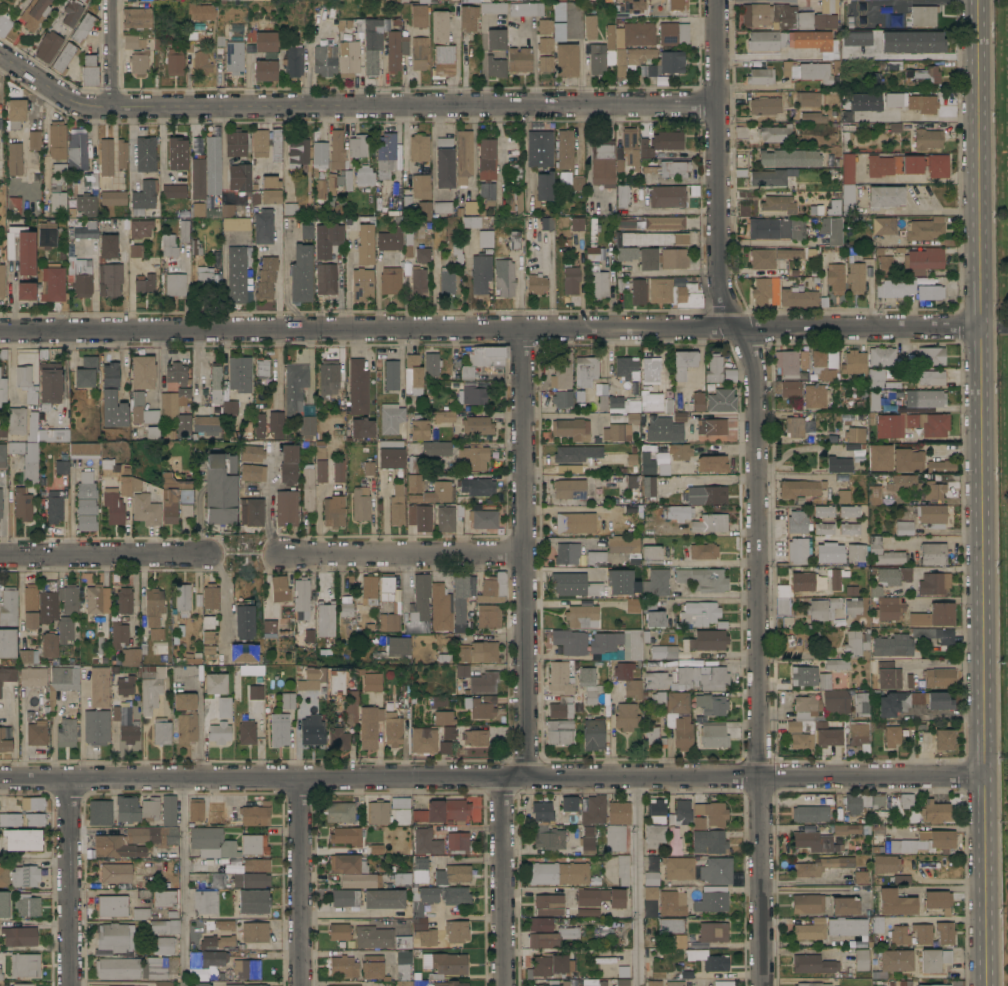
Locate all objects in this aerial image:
building: (85, 0)
building: (423, 0)
building: (469, 0)
building: (63, 1)
building: (677, 4)
building: (632, 5)
building: (494, 7)
building: (526, 8)
building: (200, 10)
building: (559, 11)
building: (72, 12)
building: (33, 13)
building: (420, 15)
building: (791, 15)
building: (923, 15)
building: (137, 17)
building: (296, 17)
building: (469, 17)
building: (891, 19)
building: (4, 25)
building: (440, 26)
building: (544, 26)
building: (590, 26)
building: (83, 27)
building: (559, 30)
building: (372, 33)
building: (635, 33)
building: (674, 33)
building: (903, 34)
building: (495, 39)
building: (810, 39)
building: (763, 40)
building: (133, 41)
building: (931, 41)
building: (544, 44)
building: (48, 45)
building: (396, 49)
building: (420, 52)
building: (602, 52)
building: (909, 52)
road: (113, 54)
road: (484, 54)
road: (768, 54)
building: (270, 55)
building: (325, 55)
road: (533, 55)
building: (632, 55)
building: (64, 56)
building: (234, 56)
building: (445, 56)
road: (579, 57)
building: (349, 58)
road: (457, 58)
building: (520, 59)
building: (293, 60)
building: (566, 60)
building: (139, 61)
building: (175, 61)
building: (202, 62)
building: (618, 62)
building: (888, 62)
building: (370, 63)
building: (544, 63)
building: (667, 63)
building: (496, 66)
building: (807, 70)
building: (88, 71)
road: (464, 71)
road: (587, 73)
building: (761, 75)
building: (922, 75)
building: (875, 79)
building: (808, 97)
building: (834, 99)
building: (891, 99)
building: (864, 102)
building: (766, 103)
building: (923, 103)
road: (351, 107)
building: (15, 112)
building: (813, 117)
road: (920, 117)
road: (25, 121)
building: (894, 127)
building: (742, 132)
building: (776, 133)
building: (928, 138)
building: (35, 139)
building: (55, 139)
building: (260, 141)
building: (236, 143)
building: (196, 144)
building: (661, 144)
building: (358, 145)
building: (276, 147)
building: (418, 147)
building: (630, 147)
building: (540, 148)
building: (337, 149)
building: (564, 149)
building: (78, 152)
building: (298, 152)
building: (122, 153)
building: (146, 153)
building: (176, 153)
building: (386, 154)
building: (464, 155)
building: (106, 156)
building: (789, 157)
building: (15, 158)
building: (487, 159)
building: (445, 162)
building: (213, 164)
building: (603, 164)
building: (908, 164)
building: (320, 167)
building: (665, 167)
building: (847, 168)
building: (33, 174)
building: (364, 175)
building: (198, 176)
building: (516, 176)
building: (178, 177)
building: (240, 177)
building: (767, 177)
road: (910, 178)
building: (88, 180)
building: (349, 180)
building: (335, 181)
building: (578, 183)
building: (544, 185)
building: (421, 186)
building: (57, 187)
building: (269, 189)
building: (488, 192)
building: (622, 194)
building: (665, 195)
building: (146, 196)
building: (175, 196)
building: (385, 196)
building: (885, 196)
building: (114, 197)
building: (848, 199)
building: (515, 200)
building: (836, 202)
building: (778, 203)
building: (408, 204)
building: (13, 205)
building: (85, 205)
building: (443, 206)
building: (832, 206)
building: (217, 207)
building: (471, 207)
building: (290, 208)
building: (198, 209)
building: (424, 210)
road: (943, 210)
building: (312, 211)
building: (471, 221)
building: (627, 222)
building: (663, 222)
building: (537, 223)
building: (577, 223)
building: (214, 224)
building: (236, 224)
building: (884, 225)
building: (263, 226)
building: (141, 227)
building: (797, 227)
building: (769, 228)
building: (925, 228)
building: (832, 229)
building: (183, 231)
building: (308, 231)
building: (84, 232)
building: (47, 234)
building: (391, 236)
building: (327, 238)
building: (486, 238)
building: (515, 239)
building: (654, 239)
building: (408, 241)
building: (592, 242)
building: (365, 243)
building: (169, 245)
building: (196, 247)
building: (136, 250)
building: (627, 252)
building: (26, 253)
building: (422, 254)
building: (457, 254)
building: (772, 256)
building: (674, 258)
building: (648, 259)
building: (924, 259)
building: (539, 263)
building: (885, 264)
building: (109, 267)
building: (836, 271)
building: (481, 272)
building: (301, 273)
building: (204, 274)
building: (237, 274)
building: (80, 275)
building: (855, 275)
building: (266, 277)
building: (326, 278)
road: (347, 278)
building: (504, 278)
building: (571, 279)
building: (390, 280)
building: (2, 281)
building: (362, 281)
building: (418, 281)
building: (447, 281)
building: (53, 283)
building: (145, 283)
building: (175, 284)
building: (598, 284)
building: (908, 288)
building: (639, 290)
building: (766, 290)
building: (25, 291)
building: (675, 293)
building: (798, 297)
road: (1003, 325)
road: (490, 331)
building: (488, 355)
building: (931, 355)
building: (882, 356)
building: (20, 358)
building: (803, 359)
building: (854, 362)
building: (432, 363)
building: (683, 363)
building: (788, 363)
building: (627, 367)
building: (820, 367)
building: (714, 368)
road: (275, 369)
building: (455, 369)
building: (651, 369)
building: (586, 370)
building: (562, 371)
building: (86, 372)
building: (142, 372)
building: (467, 372)
building: (239, 374)
building: (262, 374)
building: (390, 374)
building: (413, 374)
building: (729, 375)
building: (329, 376)
building: (932, 377)
road: (64, 378)
building: (177, 378)
building: (875, 378)
building: (25, 382)
building: (215, 383)
building: (49, 384)
building: (357, 387)
building: (602, 388)
building: (787, 388)
building: (3, 389)
building: (816, 394)
building: (469, 395)
building: (111, 397)
building: (562, 398)
building: (924, 398)
building: (296, 399)
building: (651, 400)
building: (722, 400)
building: (166, 402)
building: (601, 402)
building: (697, 402)
building: (624, 404)
building: (856, 404)
building: (229, 407)
building: (141, 409)
building: (444, 416)
building: (390, 418)
building: (633, 418)
building: (17, 420)
building: (930, 423)
building: (183, 424)
building: (206, 424)
building: (713, 424)
park: (1003, 424)
building: (259, 425)
building: (275, 425)
building: (476, 425)
building: (889, 425)
building: (32, 426)
building: (419, 427)
building: (800, 427)
building: (856, 427)
building: (361, 428)
building: (572, 428)
building: (663, 428)
building: (246, 429)
building: (153, 432)
building: (617, 432)
building: (53, 434)
building: (704, 437)
building: (316, 446)
building: (16, 447)
building: (436, 447)
building: (83, 450)
building: (674, 450)
building: (251, 453)
building: (577, 453)
building: (390, 454)
building: (2, 456)
building: (474, 456)
building: (619, 457)
building: (880, 457)
building: (286, 460)
building: (908, 460)
building: (31, 463)
building: (416, 463)
building: (647, 463)
building: (712, 463)
building: (838, 463)
building: (368, 466)
building: (941, 466)
building: (60, 467)
building: (321, 470)
building: (338, 470)
building: (251, 472)
building: (629, 480)
building: (904, 482)
building: (414, 483)
building: (85, 485)
building: (308, 486)
building: (477, 486)
building: (653, 486)
building: (800, 487)
building: (220, 488)
road: (758, 488)
building: (251, 489)
building: (570, 489)
building: (933, 489)
building: (439, 492)
road: (982, 492)
building: (705, 494)
building: (874, 494)
building: (634, 495)
building: (843, 496)
building: (414, 498)
building: (112, 500)
building: (0, 503)
building: (23, 503)
building: (360, 503)
building: (54, 505)
building: (396, 505)
building: (86, 506)
building: (287, 507)
building: (170, 509)
road: (268, 509)
building: (145, 510)
building: (849, 510)
building: (333, 511)
building: (823, 511)
building: (252, 512)
building: (677, 513)
building: (931, 515)
building: (419, 516)
building: (0, 518)
building: (445, 518)
building: (484, 518)
building: (796, 521)
building: (86, 522)
building: (575, 522)
building: (710, 522)
building: (904, 527)
building: (823, 528)
building: (848, 528)
building: (875, 544)
building: (626, 548)
building: (799, 549)
building: (703, 550)
building: (829, 552)
building: (855, 552)
building: (933, 553)
road: (523, 554)
building: (651, 554)
road: (104, 555)
road: (403, 555)
building: (580, 555)
building: (890, 557)
building: (894, 575)
building: (835, 577)
building: (685, 580)
building: (806, 581)
building: (619, 582)
building: (567, 583)
building: (934, 583)
building: (494, 585)
building: (368, 587)
building: (386, 587)
building: (593, 589)
building: (850, 590)
building: (875, 590)
building: (211, 595)
building: (462, 595)
building: (69, 597)
building: (183, 598)
building: (97, 599)
building: (782, 599)
building: (124, 600)
building: (420, 600)
building: (48, 601)
building: (633, 604)
building: (285, 605)
building: (8, 606)
building: (31, 606)
building: (154, 606)
building: (852, 607)
building: (441, 608)
building: (821, 608)
building: (889, 608)
building: (653, 613)
building: (701, 613)
building: (489, 615)
building: (582, 615)
building: (933, 615)
building: (326, 618)
building: (391, 619)
building: (244, 620)
building: (347, 620)
building: (209, 621)
building: (788, 622)
building: (66, 628)
building: (310, 631)
building: (157, 633)
building: (119, 634)
building: (935, 634)
building: (709, 639)
building: (571, 641)
building: (8, 642)
building: (857, 643)
building: (49, 644)
building: (208, 644)
building: (619, 644)
building: (892, 645)
building: (398, 646)
building: (478, 651)
building: (664, 651)
building: (244, 652)
building: (26, 656)
building: (131, 656)
road: (941, 662)
building: (836, 664)
building: (187, 670)
building: (7, 675)
building: (33, 675)
building: (804, 675)
building: (888, 675)
building: (703, 676)
building: (939, 676)
building: (479, 677)
building: (311, 678)
building: (560, 678)
building: (629, 679)
building: (657, 679)
building: (370, 680)
building: (825, 680)
building: (907, 680)
building: (62, 681)
building: (337, 682)
building: (216, 683)
building: (125, 684)
building: (260, 684)
building: (589, 684)
building: (100, 686)
building: (151, 686)
building: (254, 692)
building: (659, 698)
building: (436, 700)
building: (287, 701)
building: (836, 701)
building: (911, 701)
building: (712, 703)
building: (861, 704)
building: (257, 706)
building: (483, 706)
building: (560, 706)
building: (224, 707)
building: (350, 708)
building: (115, 710)
building: (124, 710)
building: (186, 716)
building: (626, 716)
building: (442, 717)
building: (680, 718)
building: (811, 724)
building: (96, 726)
building: (369, 726)
building: (392, 728)
building: (278, 729)
building: (162, 730)
building: (312, 730)
building: (560, 731)
building: (67, 732)
building: (130, 732)
building: (218, 732)
building: (246, 732)
building: (449, 732)
building: (37, 733)
building: (593, 733)
building: (714, 734)
building: (860, 734)
building: (892, 735)
building: (475, 736)
building: (653, 737)
building: (5, 738)
building: (338, 738)
building: (424, 739)
building: (944, 739)
building: (444, 747)
road: (873, 776)
road: (631, 777)
road: (402, 778)
road: (150, 779)
building: (877, 800)
building: (905, 800)
building: (399, 801)
building: (856, 801)
building: (32, 803)
building: (569, 803)
building: (128, 808)
building: (151, 808)
building: (195, 809)
building: (456, 809)
building: (657, 809)
building: (594, 810)
building: (168, 811)
building: (340, 811)
building: (377, 811)
building: (543, 811)
building: (682, 811)
building: (935, 811)
building: (100, 812)
building: (430, 812)
building: (619, 812)
building: (716, 813)
building: (810, 813)
building: (255, 815)
building: (215, 817)
building: (10, 819)
building: (35, 819)
building: (699, 822)
building: (849, 829)
building: (655, 834)
building: (346, 835)
building: (615, 837)
building: (550, 838)
building: (22, 839)
building: (674, 839)
building: (134, 841)
building: (427, 841)
building: (710, 841)
building: (816, 841)
building: (926, 841)
building: (212, 842)
building: (459, 842)
building: (254, 844)
building: (587, 845)
building: (375, 849)
building: (886, 863)
building: (256, 864)
building: (822, 865)
building: (679, 867)
building: (420, 868)
building: (353, 870)
building: (622, 870)
building: (717, 870)
building: (652, 871)
building: (559, 872)
building: (115, 873)
building: (451, 873)
building: (4, 874)
building: (25, 875)
building: (861, 876)
building: (402, 877)
building: (903, 878)
building: (251, 879)
road: (637, 881)
road: (70, 882)
road: (184, 882)
road: (301, 882)
road: (503, 882)
building: (600, 896)
building: (345, 897)
building: (165, 898)
building: (384, 898)
building: (712, 898)
building: (939, 900)
building: (206, 901)
building: (253, 901)
building: (457, 902)
building: (664, 902)
building: (896, 902)
building: (5, 903)
building: (810, 903)
building: (28, 904)
building: (549, 904)
building: (112, 905)
building: (846, 905)
building: (865, 907)
road: (347, 911)
building: (588, 911)
building: (141, 913)
building: (419, 923)
building: (540, 923)
building: (220, 924)
building: (671, 925)
building: (854, 925)
building: (165, 926)
building: (810, 929)
building: (456, 930)
building: (254, 931)
building: (340, 931)
building: (713, 931)
building: (945, 932)
building: (923, 933)
building: (20, 935)
building: (900, 935)
building: (373, 936)
building: (425, 936)
building: (552, 937)
building: (114, 938)
building: (680, 940)
building: (217, 941)
building: (403, 941)
building: (164, 945)
building: (709, 959)
building: (861, 959)
building: (896, 959)
building: (934, 959)
building: (209, 962)
building: (813, 963)
building: (25, 964)
building: (403, 964)
building: (444, 964)
building: (550, 965)
building: (344, 966)
building: (372, 966)
building: (118, 967)
building: (155, 967)
building: (246, 968)
building: (622, 971)
building: (416, 975)
building: (1, 976)
building: (623, 982)
building: (903, 982)
building: (163, 983)
building: (600, 983)
building: (655, 983)
building: (675, 983)
building: (724, 983)
building: (957, 983)
building: (22, 984)
building: (201, 984)
building: (243, 984)
building: (556, 984)
building: (812, 984)
building: (933, 984)
building: (139, 985)
building: (346, 985)

